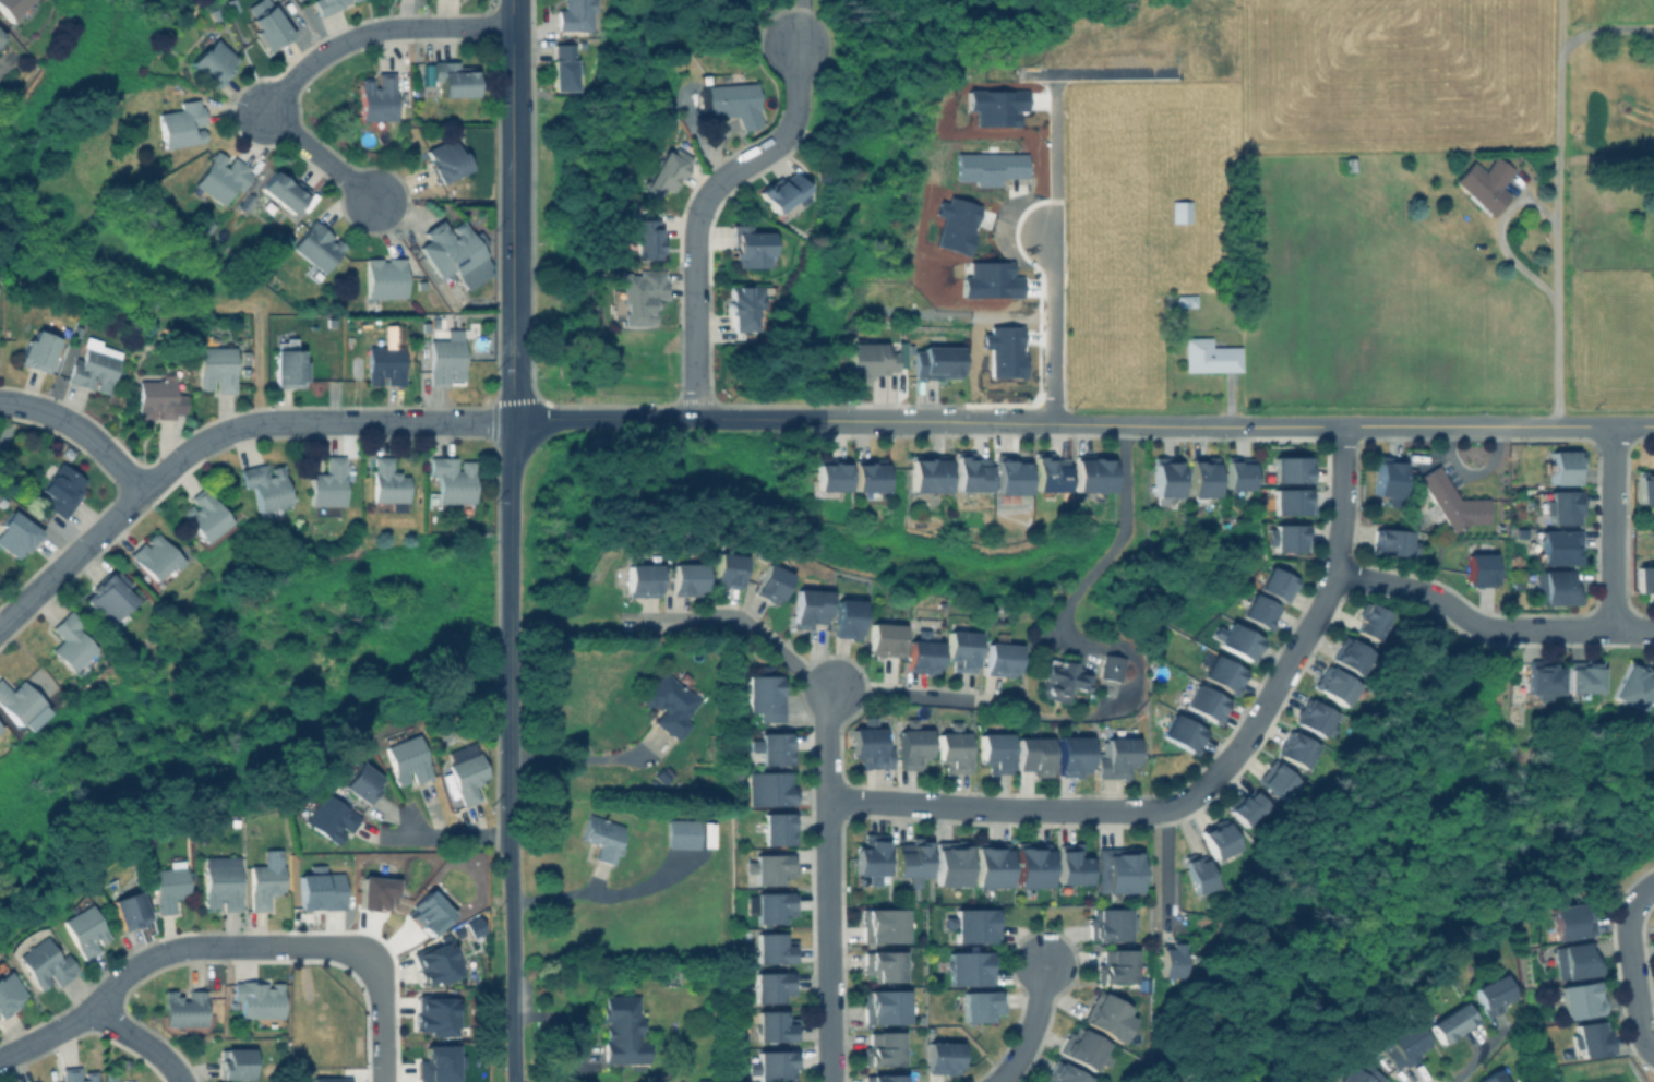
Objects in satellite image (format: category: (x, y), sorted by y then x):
building: (229, 4)
building: (322, 5)
building: (11, 9)
building: (215, 12)
building: (573, 14)
road: (800, 22)
building: (263, 27)
road: (1601, 29)
building: (0, 36)
building: (208, 61)
road: (311, 62)
building: (562, 67)
road: (1094, 71)
building: (452, 77)
building: (373, 97)
building: (727, 98)
building: (178, 123)
road: (1054, 151)
building: (442, 159)
building: (1345, 163)
building: (987, 166)
building: (661, 169)
building: (217, 177)
building: (1483, 181)
building: (280, 191)
building: (779, 192)
building: (243, 200)
road: (702, 209)
building: (1178, 209)
road: (511, 211)
road: (1558, 212)
building: (203, 224)
building: (640, 238)
road: (1501, 238)
building: (314, 244)
building: (747, 244)
building: (452, 251)
building: (382, 276)
building: (635, 294)
building: (1184, 300)
building: (739, 304)
road: (1052, 322)
building: (33, 348)
building: (1208, 354)
building: (443, 357)
building: (865, 360)
building: (935, 360)
building: (383, 361)
building: (214, 363)
building: (286, 363)
building: (92, 365)
building: (155, 397)
road: (659, 417)
road: (895, 420)
road: (1317, 425)
road: (81, 430)
road: (218, 433)
building: (61, 450)
building: (1563, 466)
building: (1286, 468)
building: (967, 470)
building: (1047, 470)
building: (924, 471)
building: (1007, 472)
building: (1090, 472)
building: (865, 474)
building: (1236, 474)
building: (1163, 476)
building: (1199, 476)
building: (825, 477)
building: (1386, 480)
building: (448, 483)
building: (385, 484)
building: (325, 486)
building: (56, 488)
building: (264, 488)
building: (1645, 488)
road: (1342, 500)
building: (1286, 501)
building: (1450, 502)
building: (1559, 505)
building: (202, 517)
road: (1611, 527)
building: (14, 531)
building: (1285, 537)
road: (1117, 541)
building: (1392, 542)
building: (1555, 545)
building: (153, 558)
building: (723, 568)
building: (1479, 569)
building: (683, 577)
building: (639, 579)
road: (1362, 579)
building: (1645, 580)
building: (768, 582)
building: (1275, 584)
building: (1555, 587)
building: (106, 599)
building: (806, 606)
building: (1258, 611)
building: (843, 614)
building: (1368, 621)
road: (511, 635)
building: (880, 638)
building: (1235, 640)
building: (67, 644)
building: (959, 649)
building: (920, 653)
building: (998, 656)
building: (1350, 658)
building: (1110, 666)
road: (798, 671)
building: (1221, 674)
building: (1543, 675)
building: (1584, 675)
building: (1059, 678)
building: (1634, 683)
building: (1334, 686)
building: (762, 694)
building: (15, 700)
building: (669, 700)
building: (1203, 704)
building: (1653, 714)
building: (1315, 717)
building: (1180, 732)
building: (866, 745)
building: (910, 745)
building: (768, 747)
building: (1295, 747)
building: (951, 748)
building: (993, 752)
building: (1115, 752)
building: (1031, 755)
building: (1070, 755)
road: (585, 758)
building: (403, 759)
building: (660, 773)
building: (463, 776)
building: (1277, 778)
building: (352, 780)
building: (767, 788)
building: (1244, 805)
road: (1006, 808)
building: (324, 816)
building: (775, 828)
building: (680, 833)
building: (706, 833)
road: (436, 837)
building: (599, 837)
building: (1216, 837)
building: (124, 850)
building: (867, 858)
building: (910, 858)
building: (948, 862)
building: (988, 863)
building: (1030, 863)
building: (1070, 863)
building: (766, 866)
building: (1115, 868)
road: (1164, 869)
building: (1196, 871)
building: (263, 879)
building: (219, 881)
road: (828, 883)
building: (166, 886)
building: (319, 889)
building: (373, 891)
building: (987, 893)
road: (604, 894)
building: (770, 905)
building: (128, 909)
building: (428, 913)
building: (1570, 918)
building: (972, 923)
building: (1107, 923)
building: (880, 924)
building: (82, 926)
building: (771, 947)
road: (170, 950)
building: (1170, 958)
building: (1575, 959)
building: (40, 963)
building: (436, 963)
building: (880, 963)
road: (513, 964)
building: (1115, 964)
road: (1631, 965)
building: (968, 966)
building: (769, 985)
building: (8, 989)
building: (1493, 993)
building: (1581, 998)
building: (256, 1001)
building: (978, 1003)
building: (882, 1005)
building: (181, 1012)
building: (436, 1014)
building: (1106, 1014)
road: (381, 1021)
building: (1451, 1021)
building: (772, 1025)
road: (1031, 1026)
building: (620, 1029)
building: (1590, 1037)
road: (142, 1039)
building: (1403, 1043)
building: (880, 1048)
building: (1082, 1048)
building: (939, 1056)
building: (235, 1062)
road: (1473, 1062)
building: (438, 1063)
building: (771, 1065)
building: (1355, 1072)
building: (1060, 1073)
building: (74, 1074)
building: (1491, 1077)
building: (108, 1078)
building: (882, 1078)
building: (327, 1079)
building: (700, 1080)
building: (32, 1081)
building: (36, 1081)

